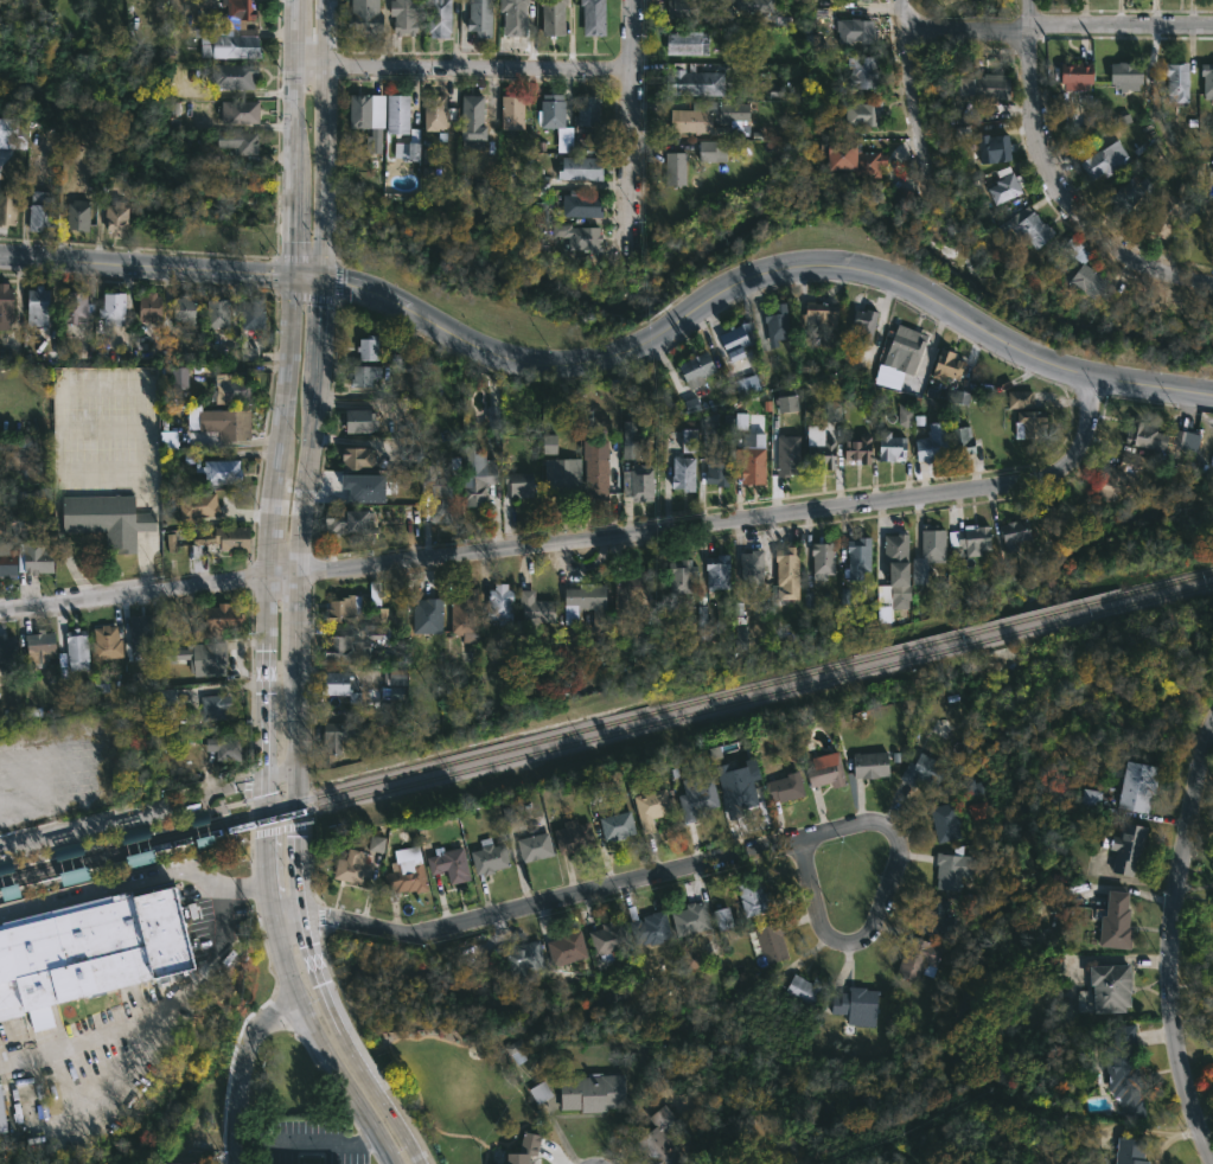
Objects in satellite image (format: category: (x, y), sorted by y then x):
building: (867, 0)
building: (752, 4)
building: (696, 9)
building: (238, 14)
building: (408, 15)
building: (366, 17)
building: (516, 17)
building: (555, 17)
building: (481, 18)
building: (595, 18)
building: (440, 19)
road: (1123, 24)
road: (969, 27)
building: (850, 31)
road: (294, 33)
building: (689, 43)
building: (230, 45)
road: (461, 68)
building: (856, 73)
building: (236, 76)
building: (1071, 76)
building: (1121, 77)
building: (697, 81)
building: (1175, 82)
building: (1206, 82)
building: (989, 88)
road: (913, 95)
building: (590, 110)
road: (1156, 110)
building: (241, 111)
building: (554, 111)
building: (857, 111)
building: (436, 113)
building: (515, 113)
building: (735, 113)
road: (293, 114)
building: (400, 114)
building: (371, 117)
building: (475, 120)
building: (694, 121)
road: (631, 122)
building: (12, 134)
road: (324, 140)
building: (242, 141)
building: (585, 145)
building: (988, 148)
building: (410, 151)
building: (715, 151)
building: (847, 156)
building: (1100, 161)
building: (583, 168)
building: (675, 168)
building: (1209, 183)
building: (1003, 185)
road: (1055, 188)
building: (484, 191)
building: (1128, 194)
building: (585, 206)
building: (9, 209)
building: (42, 211)
building: (538, 212)
building: (1161, 216)
building: (79, 217)
building: (119, 218)
road: (291, 218)
building: (1019, 228)
building: (582, 237)
traffic signals: (291, 242)
road: (305, 257)
road: (145, 267)
road: (761, 273)
road: (273, 274)
traffic signals: (269, 275)
road: (307, 277)
building: (1084, 280)
road: (337, 281)
traffic signals: (343, 283)
road: (304, 296)
building: (7, 302)
building: (40, 303)
traffic signals: (323, 306)
building: (79, 307)
building: (152, 307)
building: (115, 309)
building: (187, 312)
building: (221, 314)
building: (255, 315)
building: (821, 321)
building: (771, 322)
building: (864, 325)
building: (734, 340)
building: (368, 348)
building: (902, 350)
road: (285, 362)
building: (943, 365)
building: (692, 367)
building: (368, 373)
building: (180, 377)
building: (746, 385)
building: (234, 388)
building: (1016, 398)
building: (786, 404)
building: (904, 416)
building: (492, 417)
building: (363, 420)
building: (229, 422)
building: (708, 423)
building: (1027, 423)
road: (311, 424)
building: (632, 431)
building: (1139, 435)
building: (956, 436)
building: (1185, 441)
building: (549, 443)
building: (886, 447)
building: (927, 448)
building: (853, 450)
building: (24, 453)
building: (789, 455)
building: (821, 455)
building: (362, 456)
building: (749, 460)
building: (44, 461)
building: (683, 461)
building: (715, 467)
building: (221, 468)
building: (1212, 471)
building: (479, 474)
building: (560, 479)
building: (1117, 479)
building: (4, 480)
road: (94, 480)
building: (640, 480)
building: (521, 482)
building: (592, 484)
building: (364, 487)
building: (438, 494)
building: (198, 506)
road: (268, 509)
building: (109, 518)
building: (362, 520)
road: (730, 520)
building: (338, 522)
building: (1008, 532)
building: (229, 537)
building: (968, 538)
building: (930, 543)
building: (890, 544)
building: (39, 556)
building: (854, 556)
building: (9, 558)
building: (194, 558)
building: (821, 561)
building: (754, 565)
road: (280, 570)
building: (784, 574)
building: (678, 576)
building: (890, 587)
road: (132, 588)
building: (710, 588)
building: (632, 589)
building: (586, 600)
building: (503, 602)
building: (378, 603)
building: (534, 607)
building: (345, 608)
building: (430, 614)
building: (466, 614)
building: (221, 620)
building: (376, 631)
building: (145, 634)
building: (109, 641)
building: (40, 645)
building: (78, 648)
building: (347, 648)
building: (8, 654)
building: (210, 658)
road: (295, 669)
road: (266, 674)
building: (394, 677)
building: (101, 683)
building: (344, 684)
building: (165, 697)
building: (216, 706)
railway: (709, 709)
railway: (606, 722)
building: (346, 731)
building: (224, 748)
building: (869, 765)
building: (919, 769)
building: (823, 770)
road: (281, 773)
building: (1134, 785)
building: (783, 787)
building: (733, 789)
building: (691, 798)
road: (243, 801)
road: (307, 805)
building: (649, 807)
building: (977, 811)
road: (133, 813)
railway: (208, 816)
building: (945, 821)
building: (612, 826)
road: (277, 829)
railway: (213, 832)
building: (572, 836)
building: (204, 837)
railway: (215, 843)
building: (376, 844)
building: (537, 846)
building: (1122, 846)
road: (266, 850)
building: (139, 856)
building: (491, 857)
railway: (103, 861)
building: (452, 864)
building: (63, 865)
building: (355, 866)
building: (949, 870)
building: (75, 872)
building: (408, 875)
road: (256, 885)
road: (299, 885)
road: (113, 887)
building: (751, 896)
road: (535, 904)
building: (687, 919)
building: (722, 919)
building: (930, 919)
building: (1111, 921)
road: (874, 923)
building: (651, 928)
building: (612, 939)
building: (766, 941)
road: (1169, 942)
building: (570, 948)
building: (91, 952)
building: (685, 955)
building: (524, 957)
building: (915, 959)
building: (1105, 986)
building: (804, 991)
road: (155, 997)
building: (855, 1004)
road: (323, 1047)
building: (517, 1051)
road: (237, 1069)
building: (1121, 1069)
road: (374, 1082)
building: (595, 1093)
building: (1, 1118)
building: (1078, 1137)
building: (657, 1139)
road: (304, 1141)
building: (525, 1150)
building: (1130, 1151)
building: (167, 1163)

